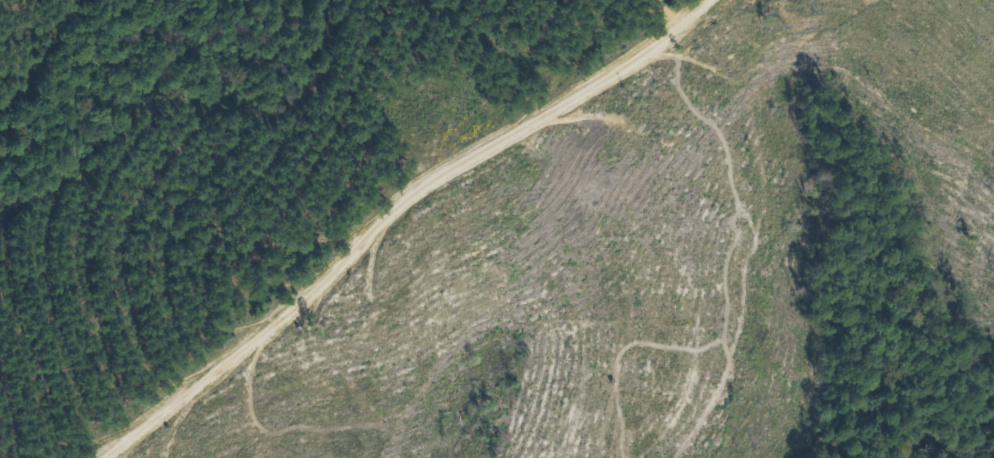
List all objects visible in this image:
road: (608, 17)
road: (660, 21)

